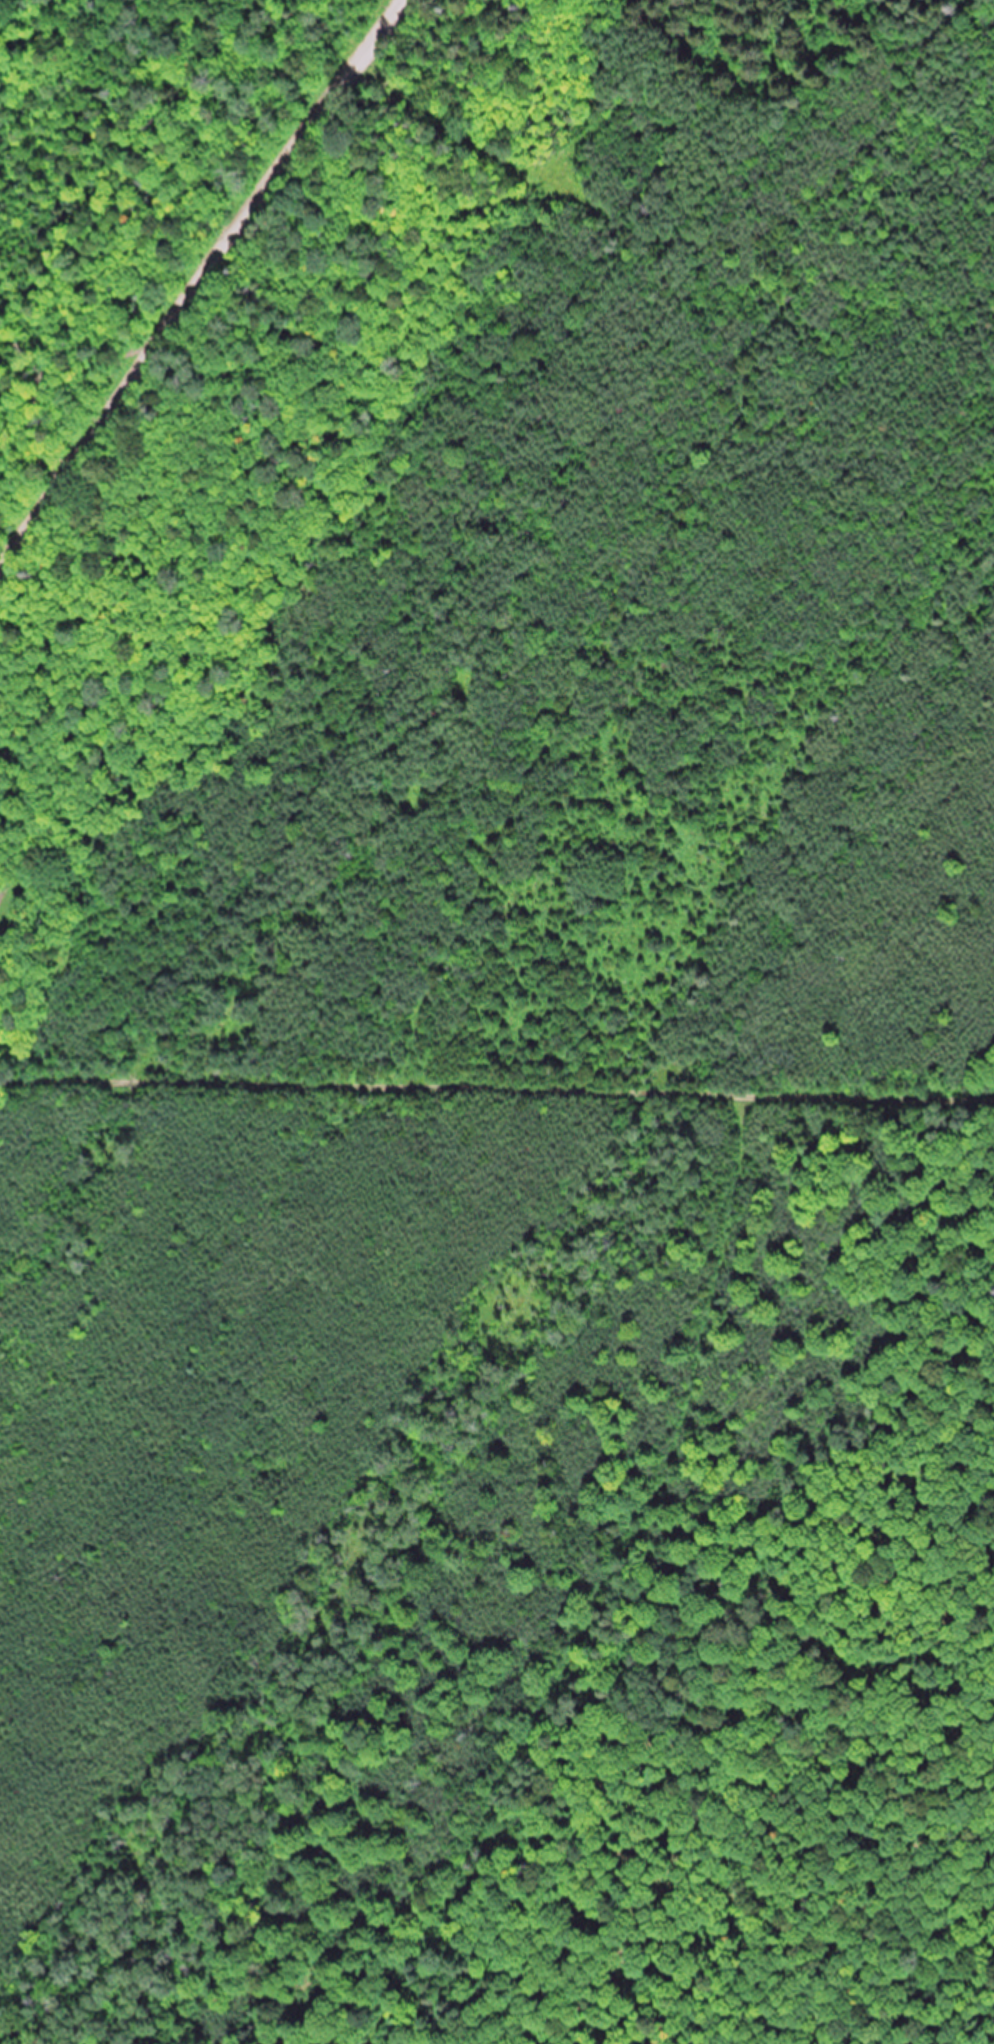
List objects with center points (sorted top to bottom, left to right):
road: (200, 293)
road: (497, 1093)

